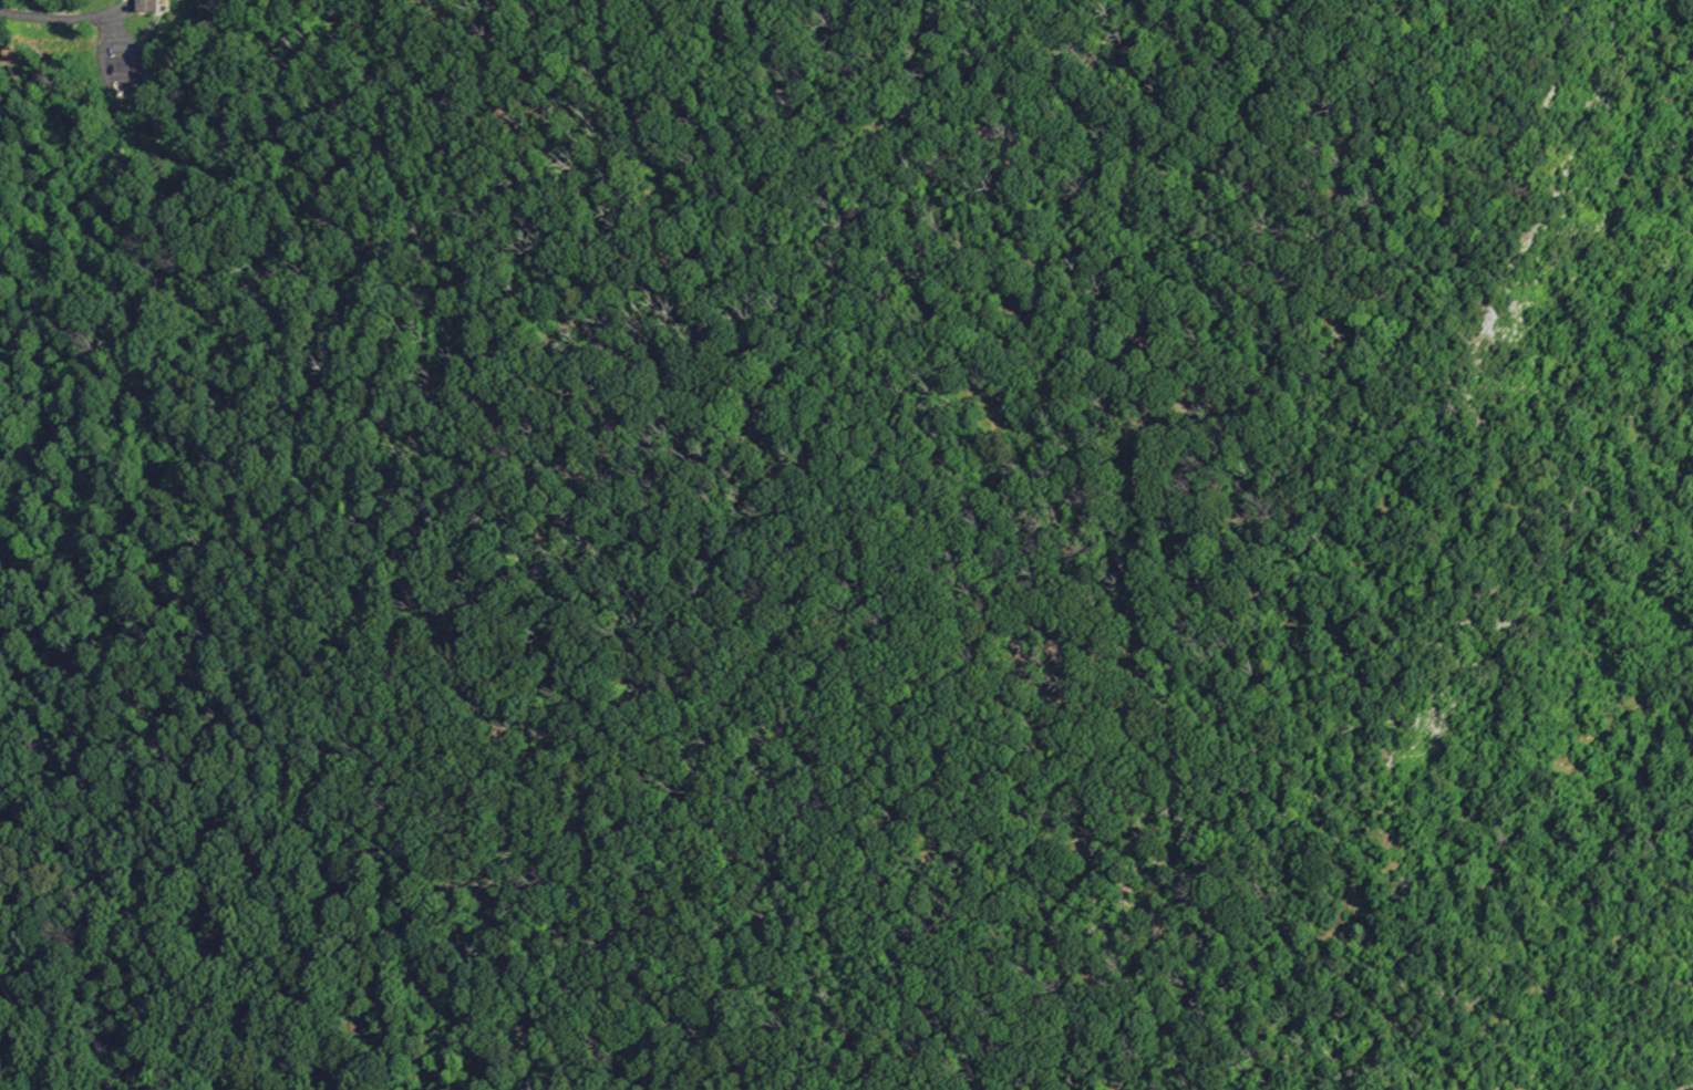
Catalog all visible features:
building: (146, 9)
road: (54, 19)
road: (1336, 534)

